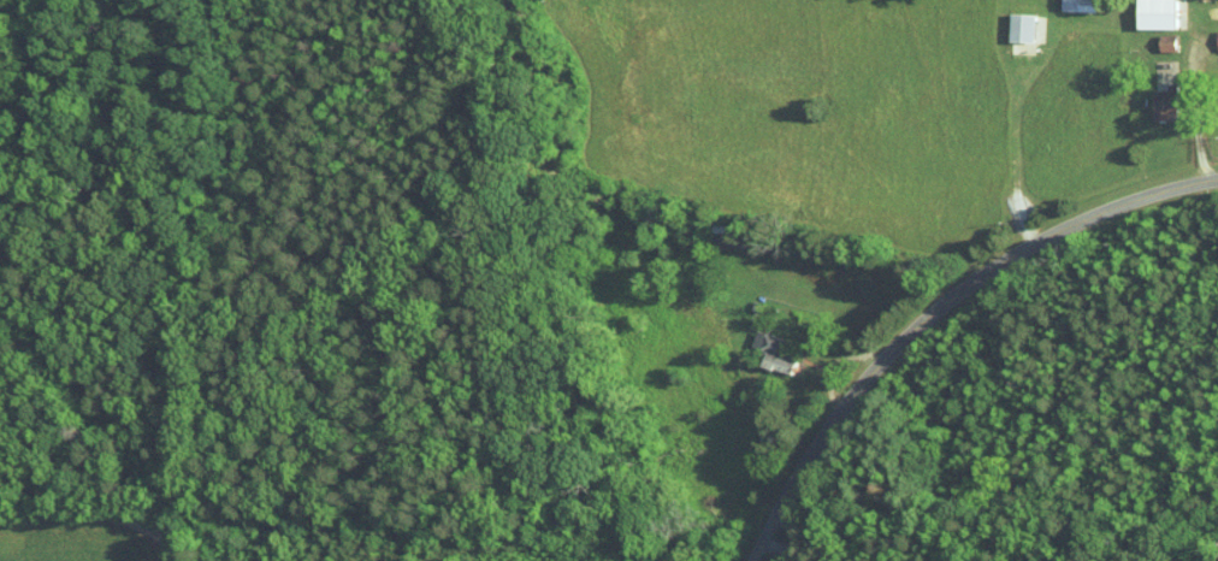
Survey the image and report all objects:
building: (1154, 13)
building: (1019, 28)
building: (1165, 43)
building: (1164, 104)
road: (936, 308)
building: (771, 353)
road: (99, 514)
road: (785, 550)

